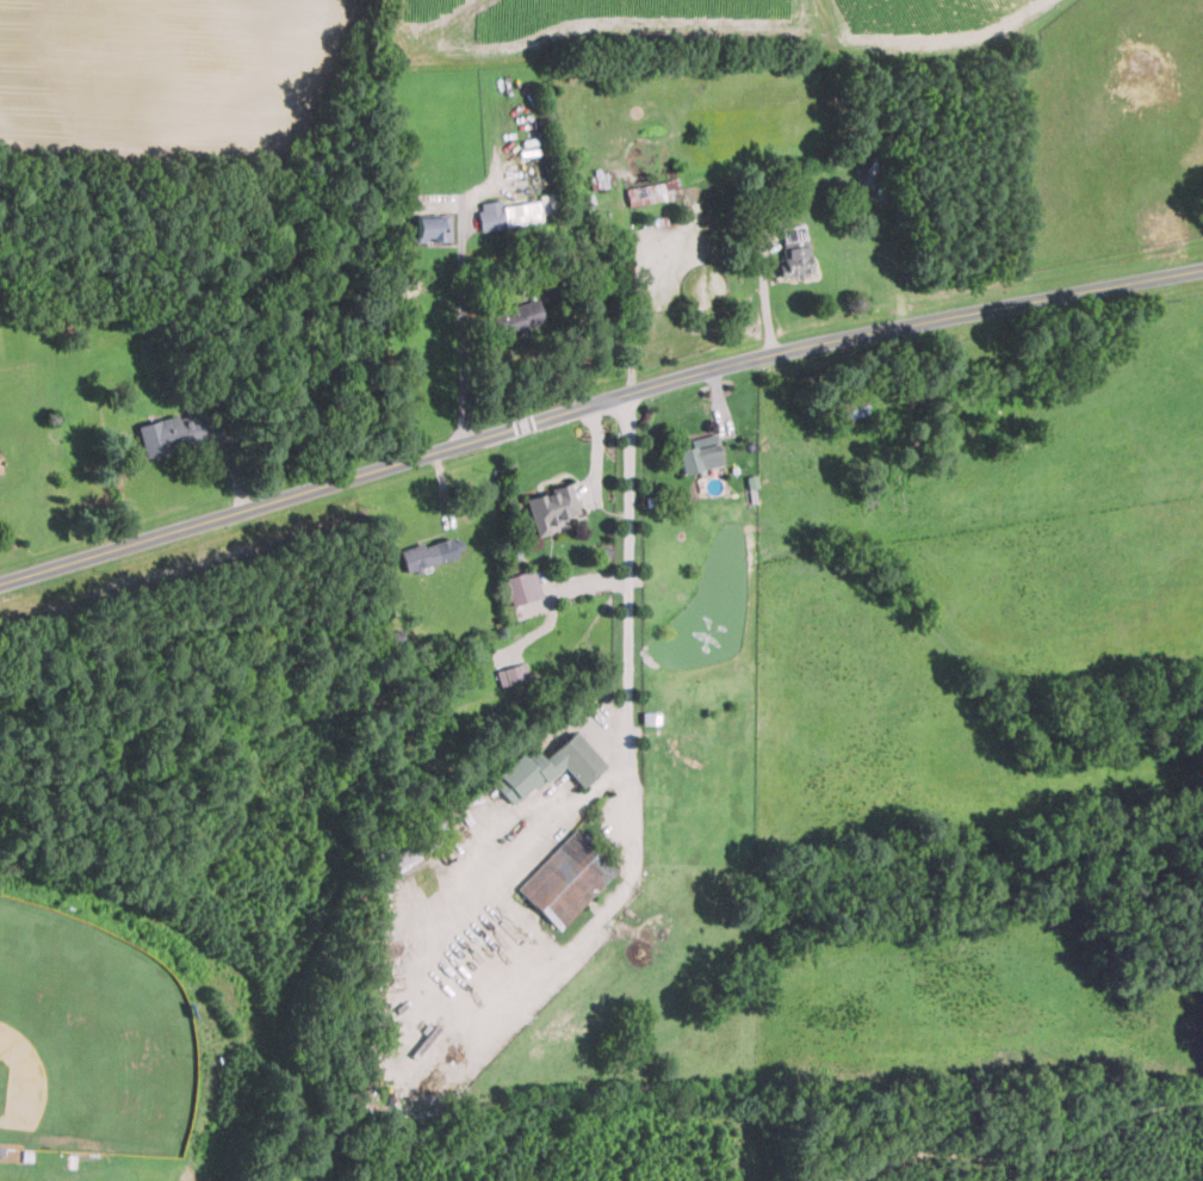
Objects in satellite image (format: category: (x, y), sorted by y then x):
building: (864, 175)
building: (601, 177)
building: (651, 192)
building: (508, 214)
building: (434, 228)
building: (796, 251)
building: (520, 317)
road: (464, 322)
road: (595, 401)
building: (174, 431)
building: (701, 455)
building: (1, 466)
building: (553, 507)
building: (429, 552)
building: (523, 587)
road: (632, 608)
building: (510, 673)
building: (550, 767)
building: (565, 890)
park: (88, 1039)

